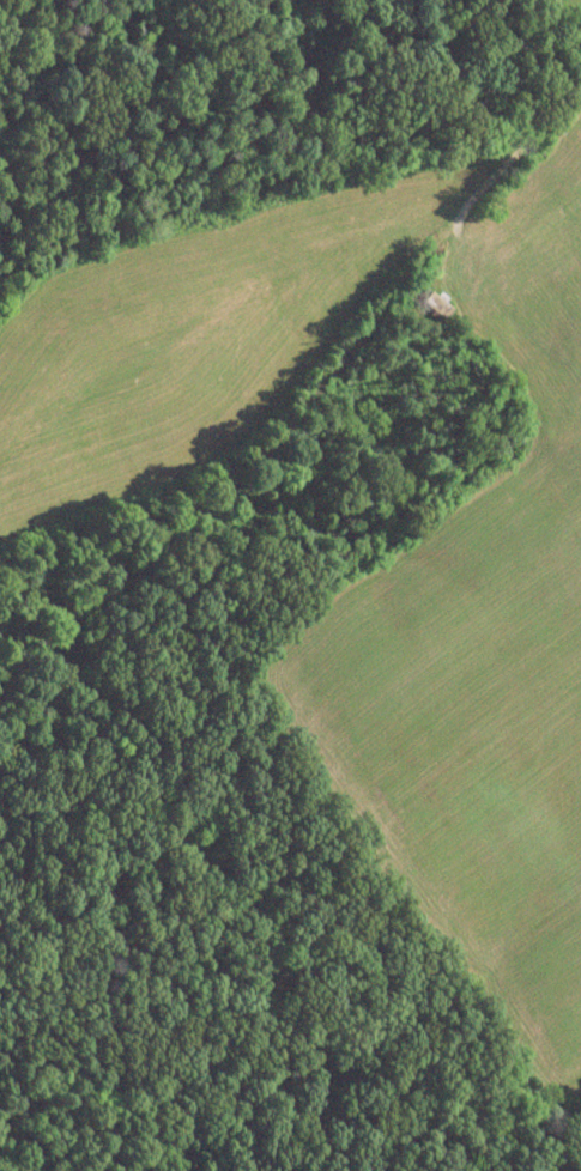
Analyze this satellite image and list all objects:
road: (299, 390)

